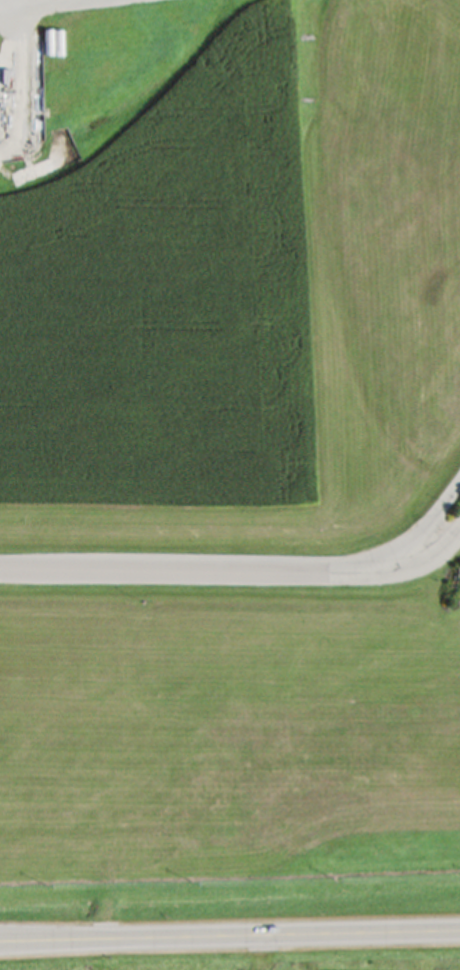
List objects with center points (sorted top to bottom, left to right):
road: (36, 5)
road: (350, 572)
road: (170, 575)
road: (230, 939)

